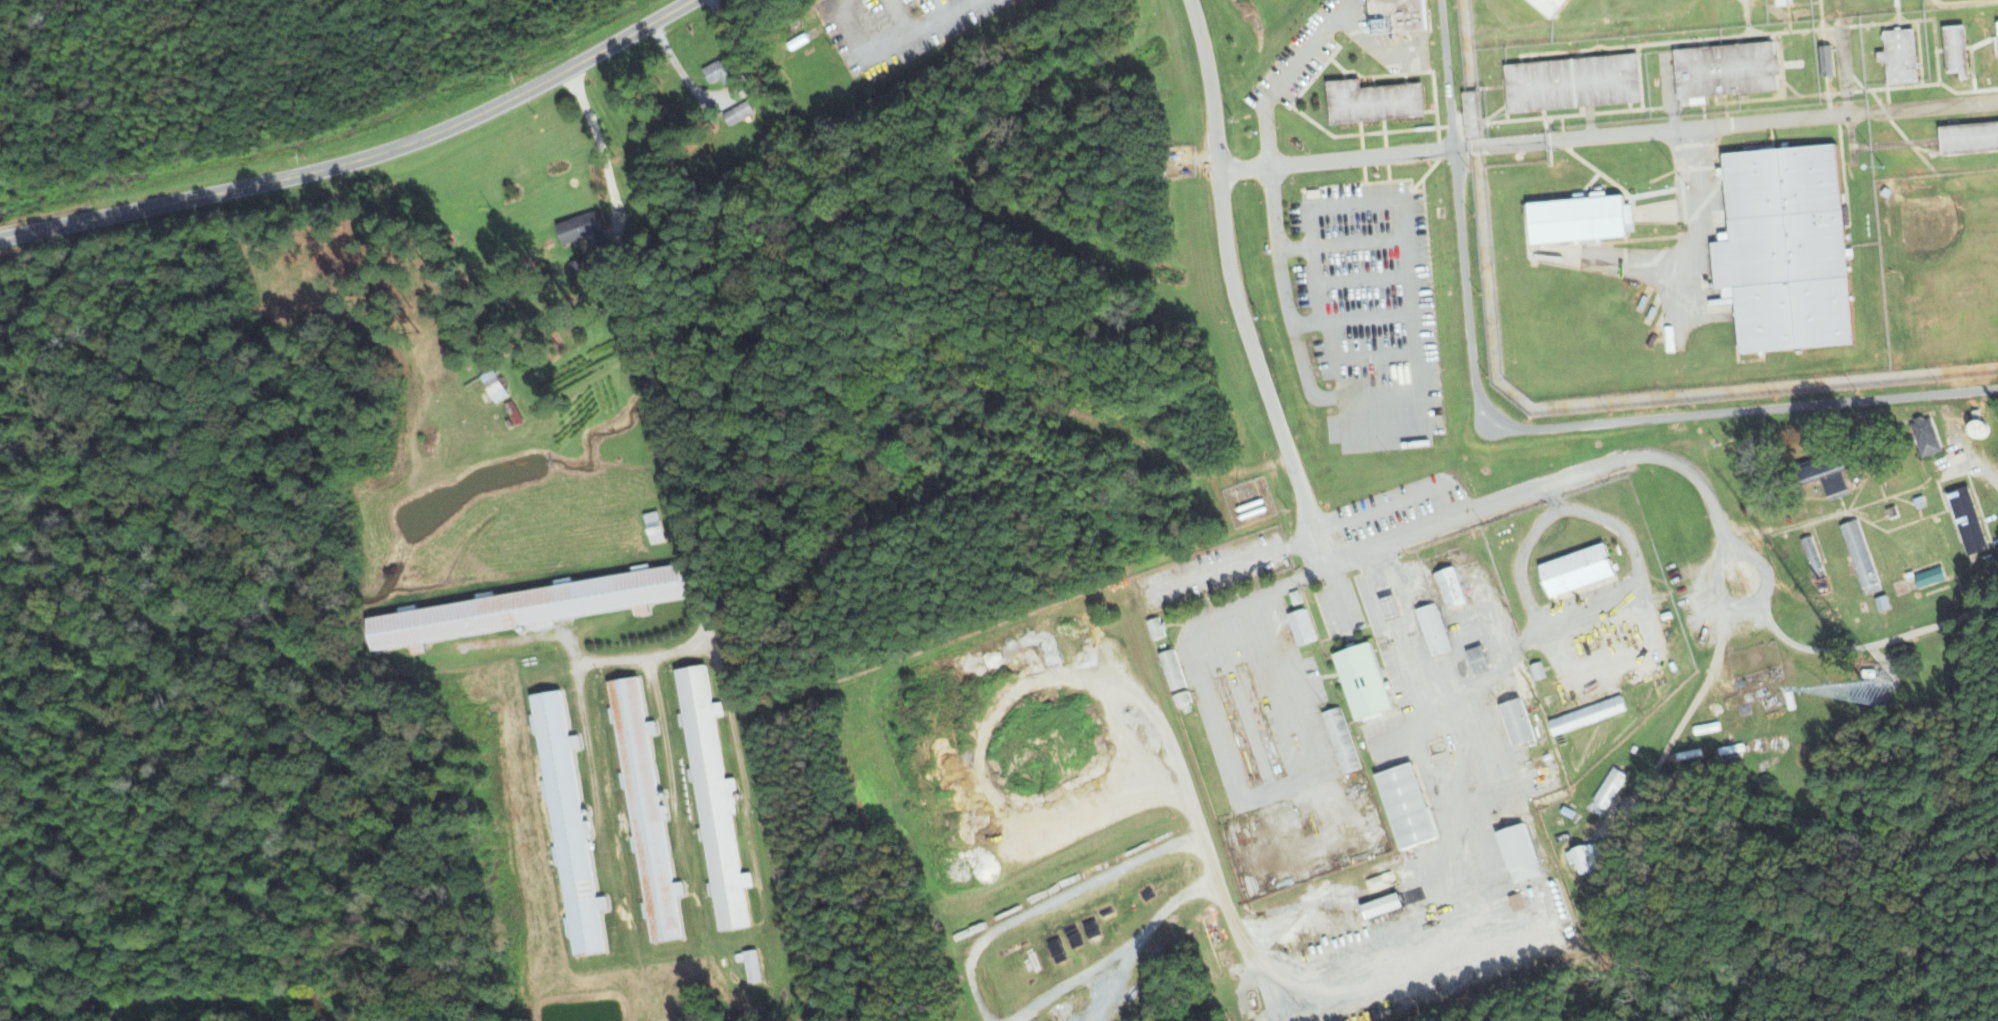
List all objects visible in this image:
building: (1550, 6)
building: (1397, 15)
road: (934, 18)
building: (1956, 50)
building: (1900, 56)
building: (1826, 61)
building: (1725, 70)
building: (719, 72)
road: (1279, 82)
building: (1572, 83)
building: (1373, 101)
building: (1470, 113)
building: (1969, 137)
road: (362, 157)
road: (1334, 161)
building: (1580, 220)
building: (581, 231)
building: (1785, 249)
road: (1234, 288)
wastewater plant: (1570, 350)
road: (644, 352)
building: (493, 385)
road: (1389, 395)
road: (1531, 428)
building: (1926, 437)
building: (1819, 468)
road: (1991, 480)
building: (1835, 485)
road: (1486, 509)
building: (1968, 521)
building: (653, 528)
building: (1860, 557)
road: (1236, 561)
road: (1721, 561)
building: (1577, 571)
building: (1929, 577)
building: (1450, 588)
building: (1390, 608)
building: (518, 610)
building: (1302, 627)
building: (1156, 628)
building: (1433, 630)
road: (1871, 645)
building: (1172, 668)
building: (1538, 671)
building: (1363, 681)
building: (1182, 697)
road: (1689, 706)
building: (1587, 715)
building: (1517, 722)
building: (1342, 740)
building: (1609, 787)
building: (713, 796)
building: (1407, 805)
building: (645, 809)
building: (568, 822)
building: (1519, 852)
building: (1586, 857)
building: (1517, 901)
building: (1382, 904)

